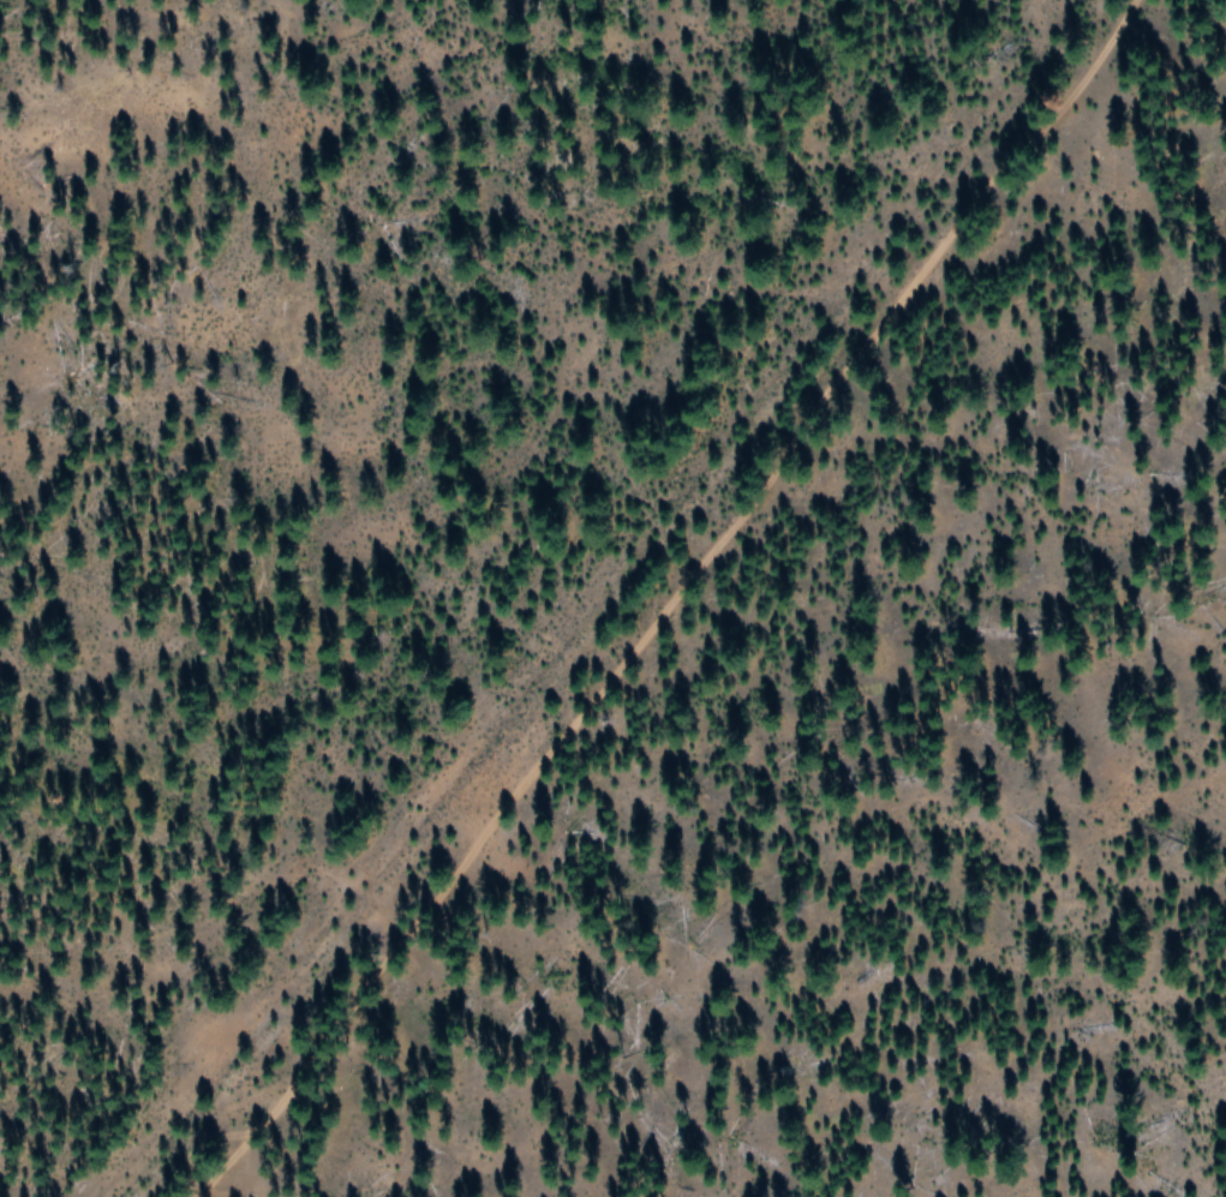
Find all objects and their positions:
road: (672, 602)

